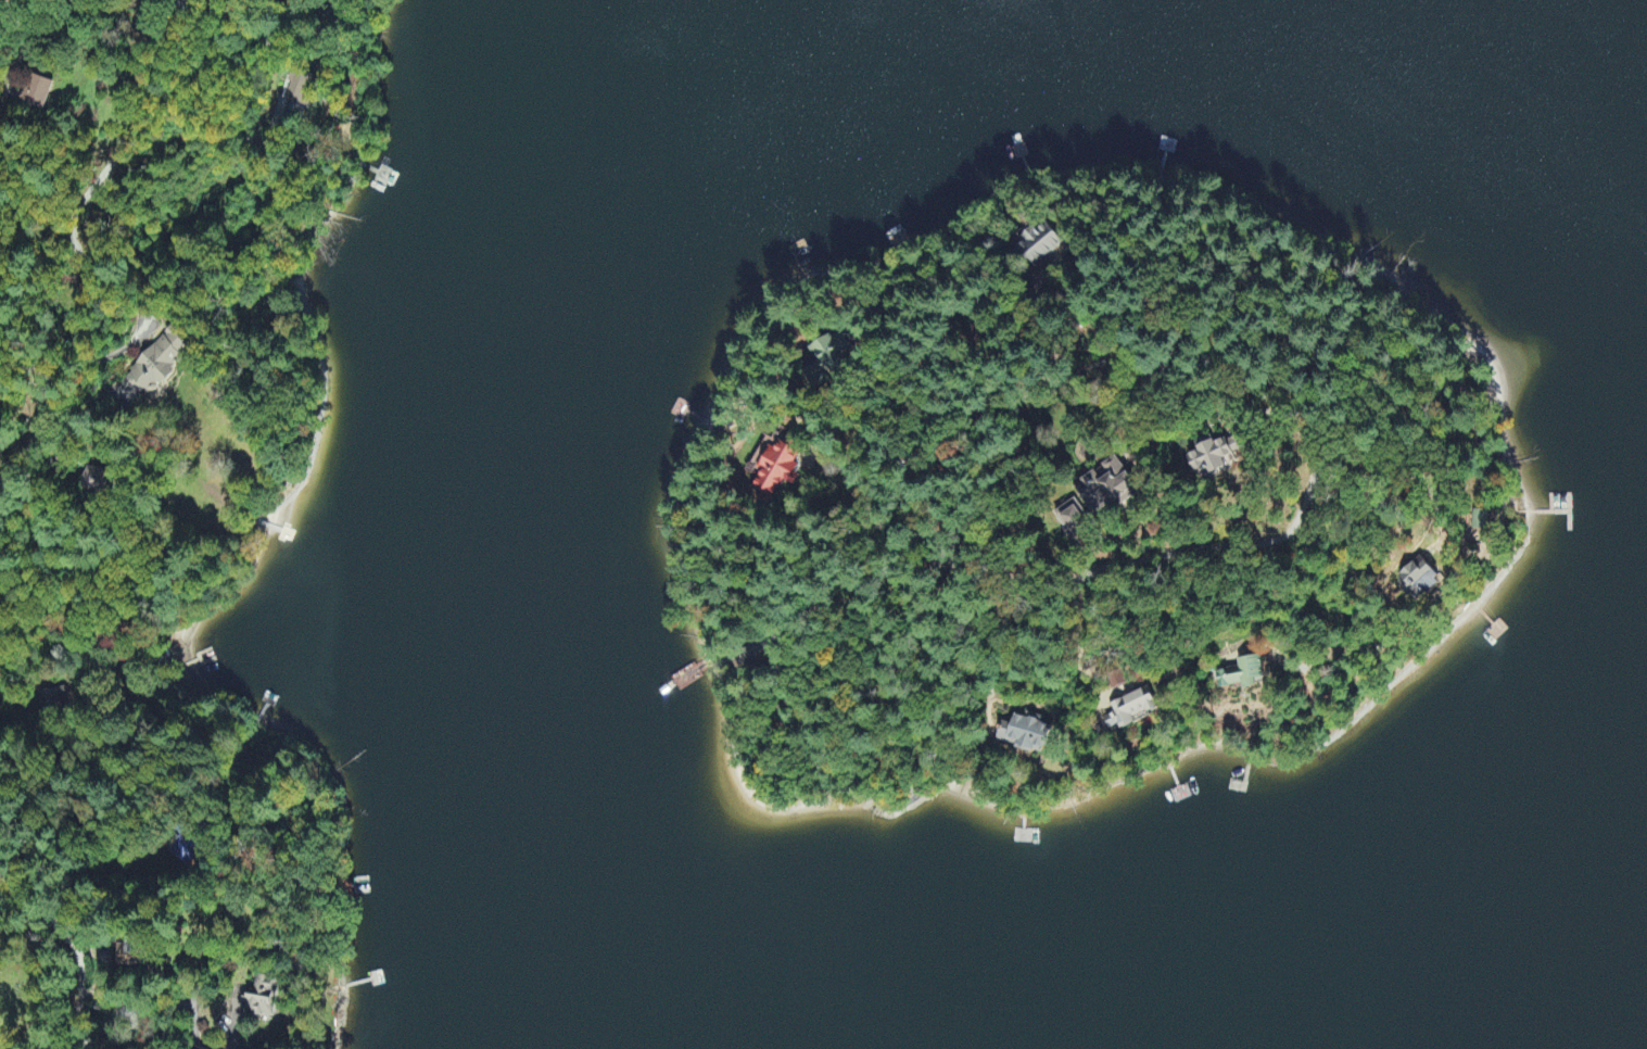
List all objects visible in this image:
building: (299, 91)
building: (38, 94)
road: (48, 213)
building: (1041, 244)
road: (207, 344)
building: (161, 364)
building: (1214, 453)
building: (775, 464)
building: (98, 481)
building: (1072, 518)
road: (90, 565)
building: (1419, 579)
building: (1243, 674)
building: (54, 700)
building: (1130, 710)
building: (1025, 734)
building: (126, 952)
road: (20, 969)
building: (264, 998)

